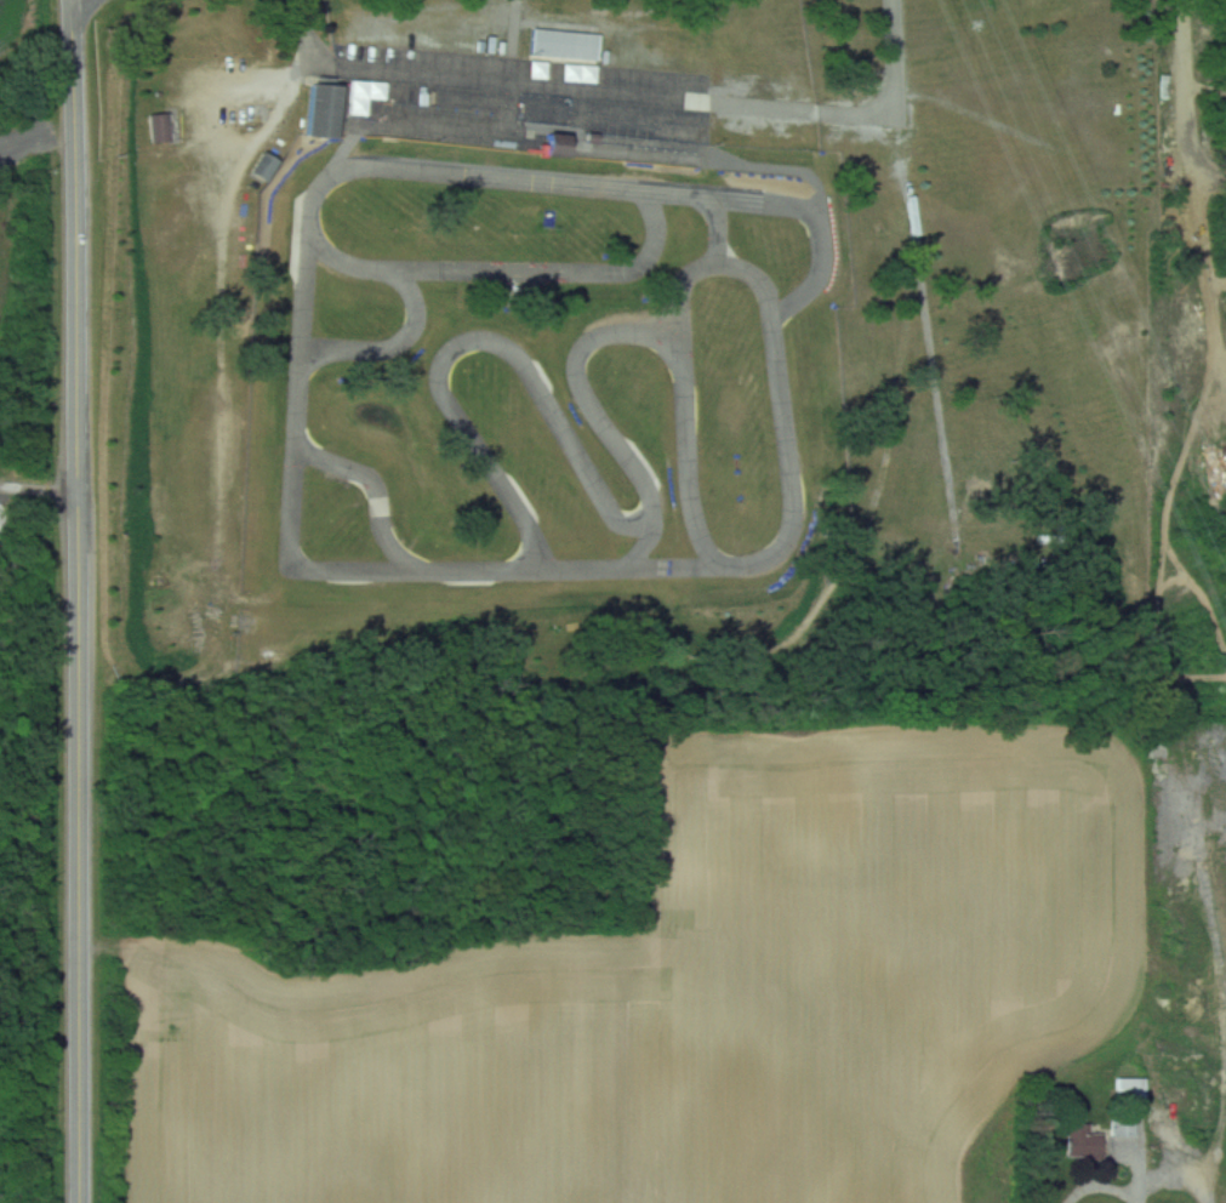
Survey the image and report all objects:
building: (344, 10)
building: (428, 22)
building: (911, 29)
building: (564, 44)
building: (644, 55)
road: (389, 69)
building: (561, 70)
road: (515, 90)
building: (358, 97)
road: (755, 104)
building: (318, 109)
building: (528, 115)
building: (648, 120)
building: (156, 126)
building: (553, 143)
building: (261, 166)
road: (705, 205)
building: (549, 215)
road: (815, 216)
road: (769, 255)
road: (480, 342)
road: (397, 346)
road: (600, 416)
road: (39, 486)
road: (380, 494)
road: (298, 564)
road: (79, 600)
building: (1127, 1088)
building: (1120, 1125)
building: (1079, 1141)
road: (1110, 1185)

